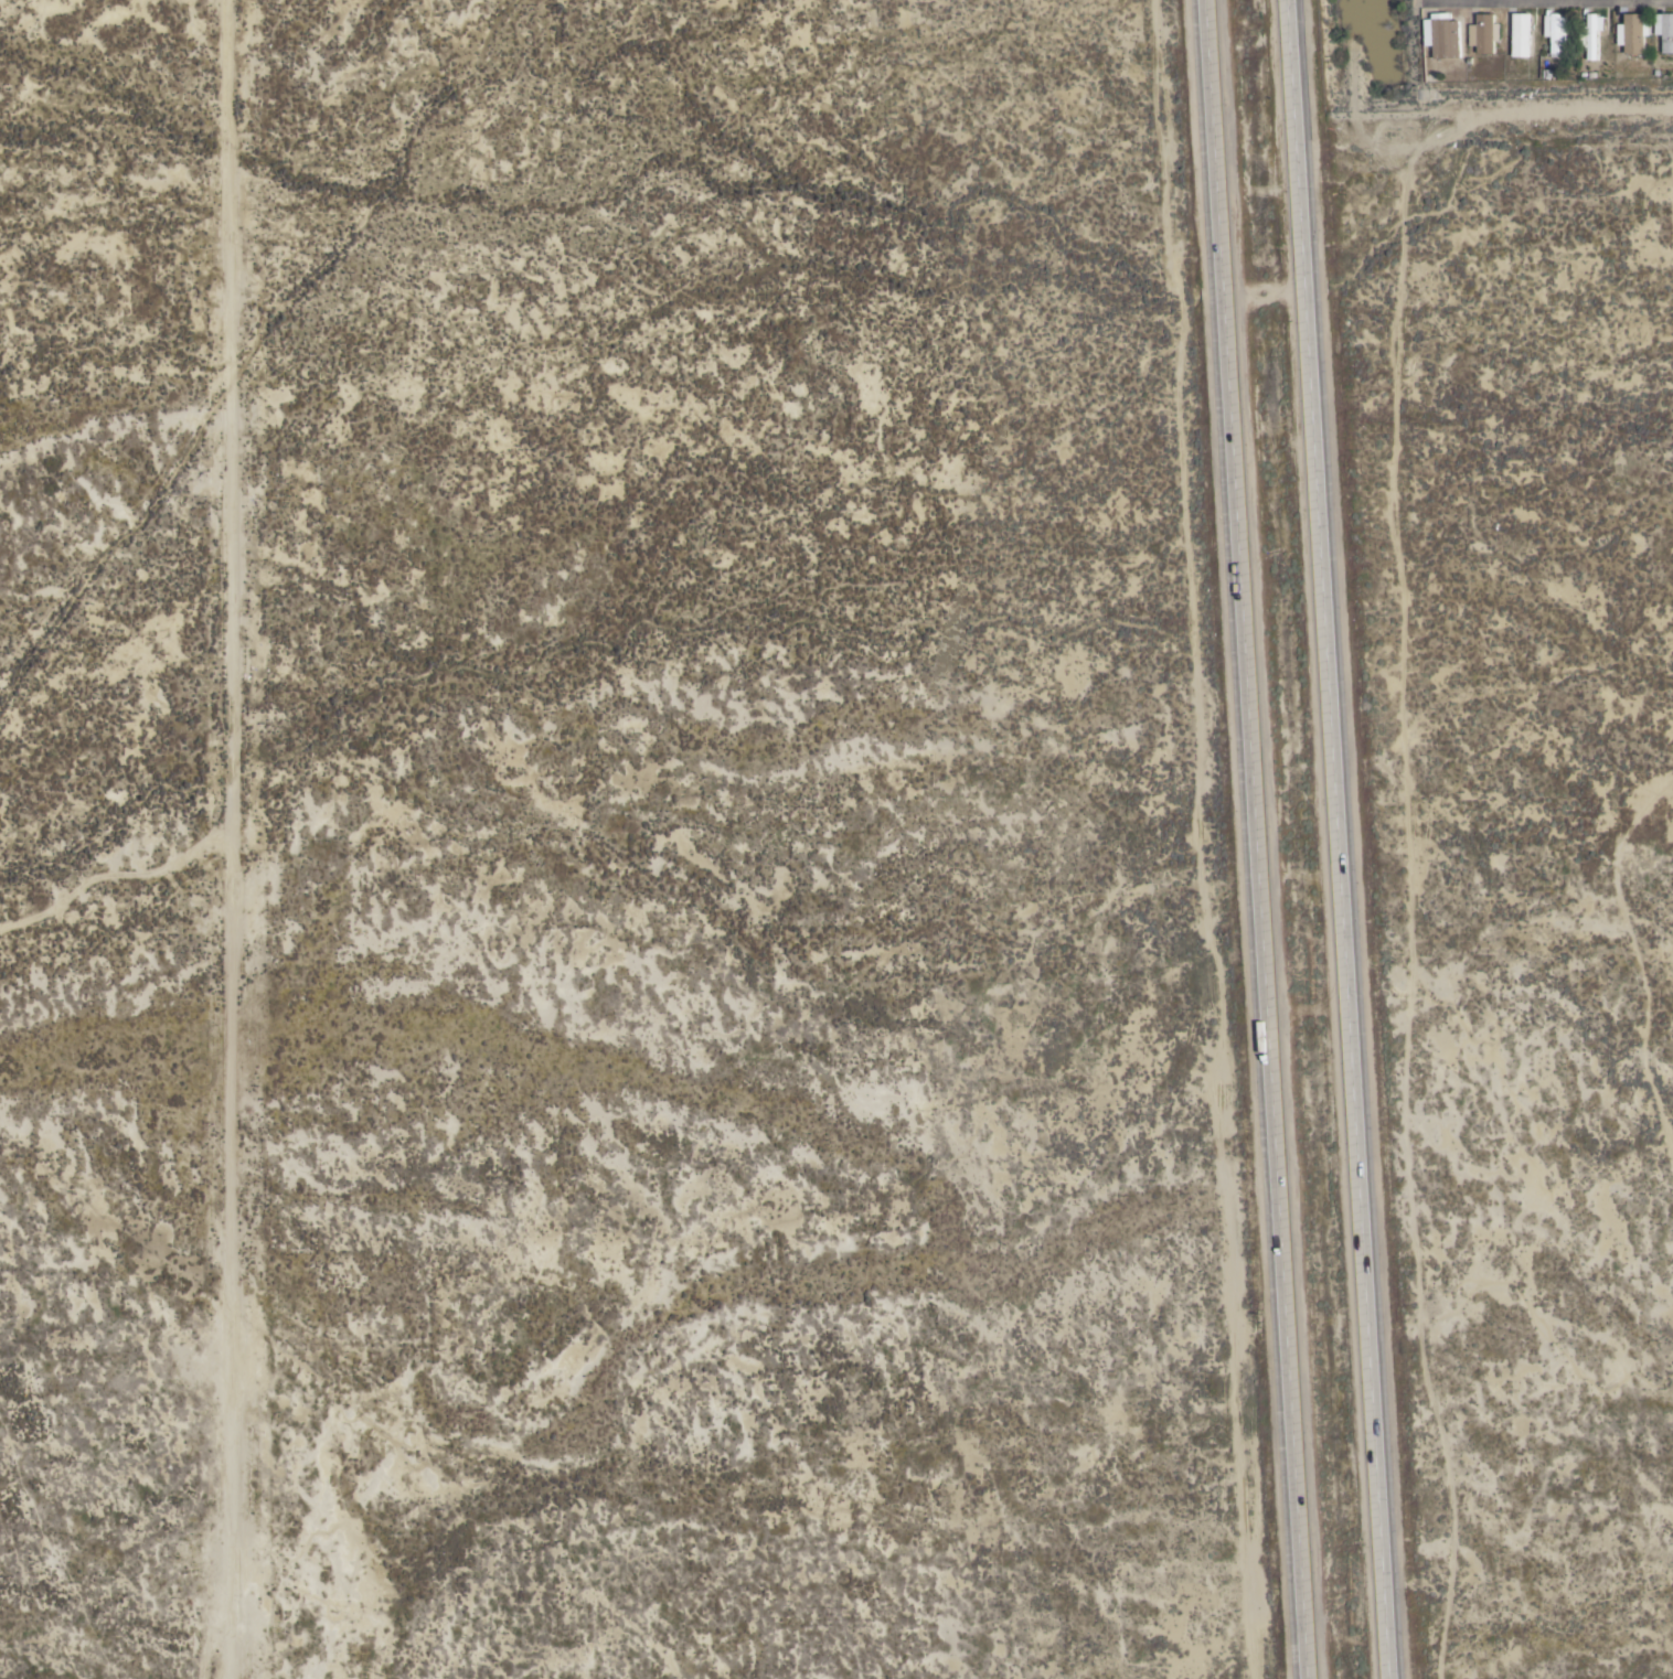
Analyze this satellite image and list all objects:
building: (1663, 31)
building: (1553, 32)
building: (1482, 33)
building: (1631, 33)
building: (1519, 34)
building: (1618, 34)
building: (1590, 35)
building: (1443, 38)
road: (1407, 58)
road: (1511, 115)
road: (234, 839)
road: (1203, 839)
road: (1257, 839)
road: (1339, 839)

